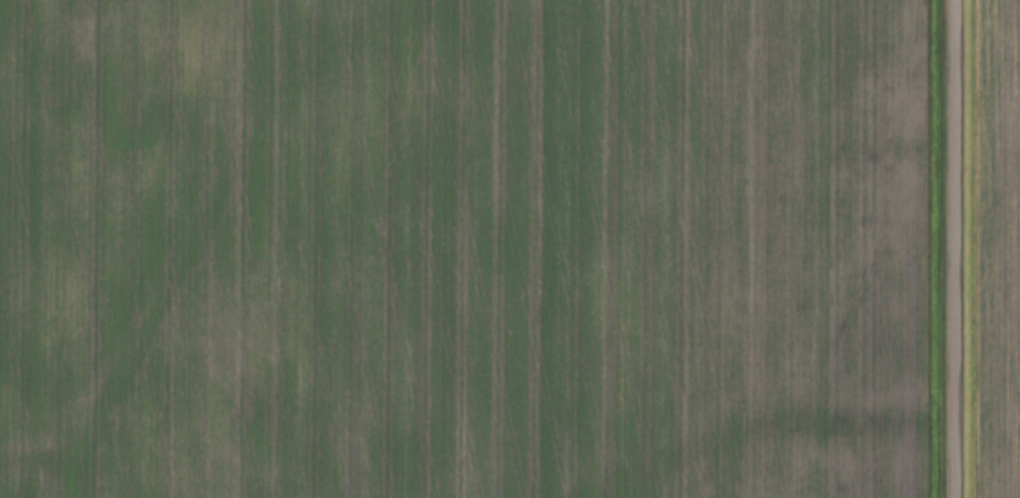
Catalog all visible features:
road: (955, 249)

